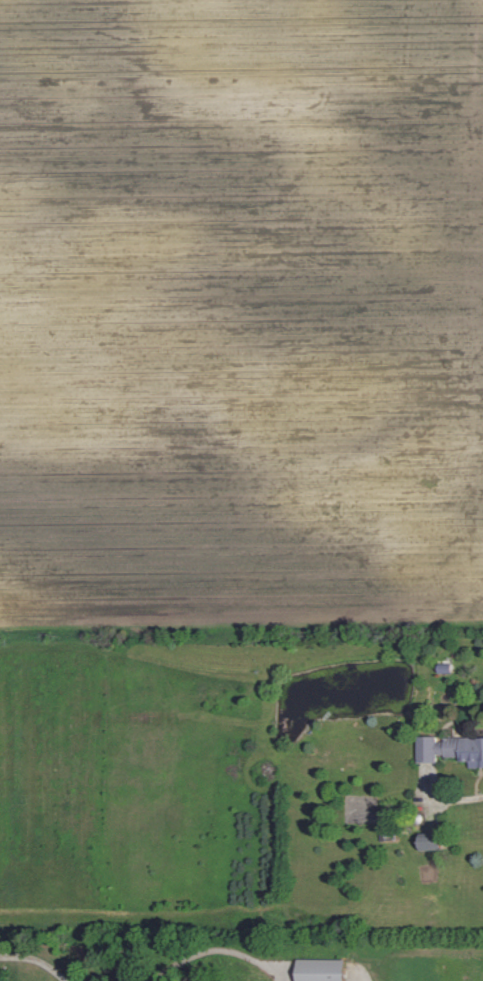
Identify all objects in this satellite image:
building: (450, 749)
road: (456, 798)
building: (430, 840)
road: (221, 951)
road: (35, 961)
building: (320, 970)

